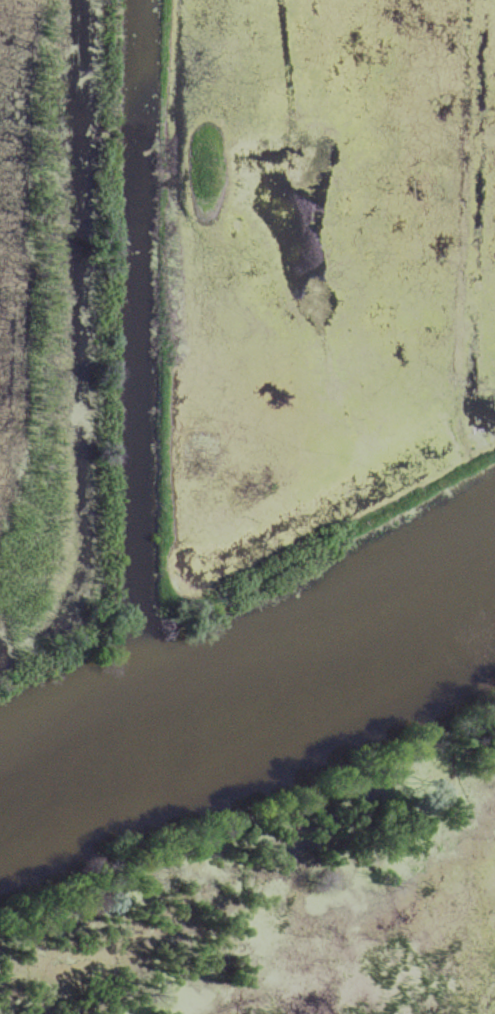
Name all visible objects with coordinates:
crop: (31, 293)
road: (98, 311)
river: (247, 682)

